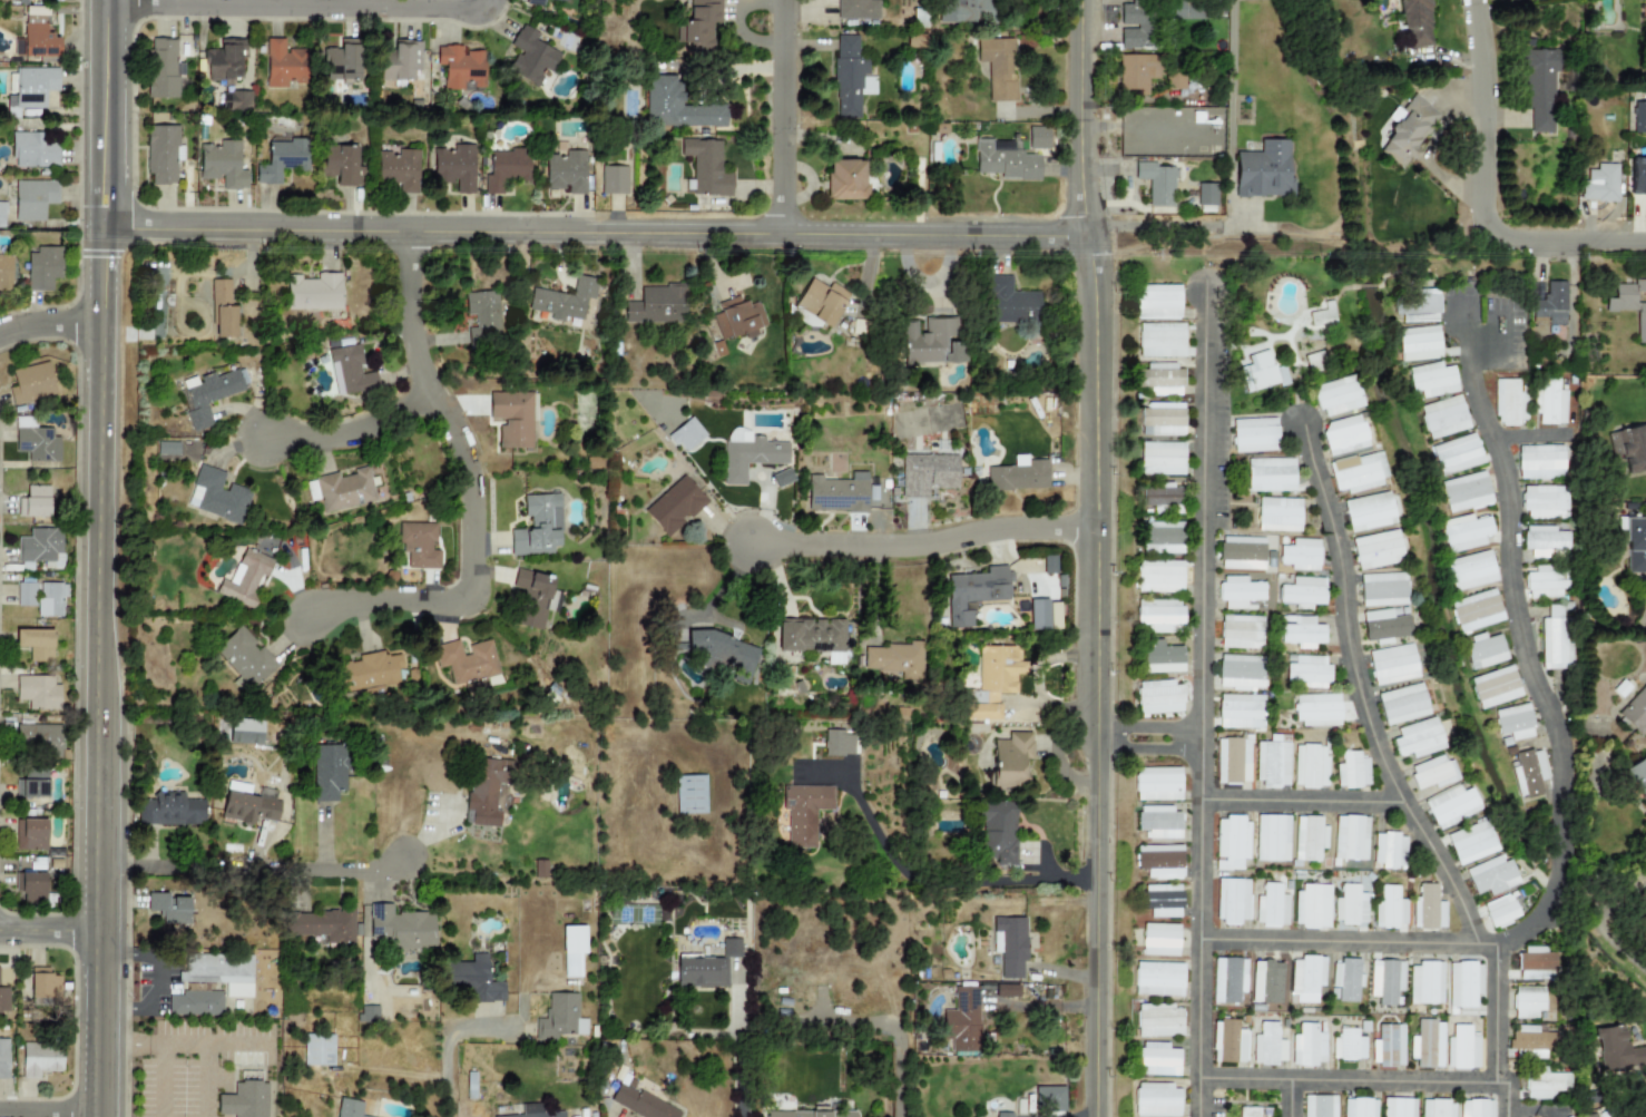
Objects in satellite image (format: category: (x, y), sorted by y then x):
building: (29, 0)
building: (560, 0)
building: (533, 2)
road: (296, 9)
building: (858, 9)
building: (1201, 10)
building: (964, 11)
building: (1645, 20)
building: (1414, 26)
building: (697, 27)
building: (1137, 28)
building: (37, 33)
building: (530, 57)
building: (344, 60)
building: (224, 61)
building: (400, 61)
building: (284, 65)
building: (461, 67)
building: (997, 67)
building: (165, 69)
building: (1138, 72)
building: (850, 78)
building: (1175, 78)
building: (33, 86)
building: (1540, 94)
building: (237, 101)
building: (675, 106)
road: (1231, 115)
road: (787, 117)
building: (1640, 118)
road: (1487, 120)
building: (1411, 128)
building: (1038, 137)
building: (32, 151)
building: (163, 154)
building: (282, 160)
building: (1005, 160)
building: (223, 165)
building: (339, 165)
building: (454, 166)
building: (706, 167)
building: (506, 168)
building: (399, 169)
building: (567, 172)
building: (1265, 173)
building: (1637, 175)
building: (614, 179)
building: (845, 179)
building: (1158, 182)
building: (1600, 182)
building: (1207, 194)
building: (32, 198)
building: (1, 214)
road: (1179, 231)
road: (597, 234)
road: (1566, 243)
building: (43, 268)
building: (6, 274)
building: (314, 292)
building: (821, 301)
building: (1156, 301)
building: (564, 302)
building: (1010, 304)
building: (657, 305)
building: (1551, 305)
building: (1415, 306)
building: (1611, 306)
building: (223, 310)
building: (1323, 316)
building: (482, 319)
building: (736, 319)
road: (50, 326)
building: (1640, 327)
building: (1162, 339)
building: (932, 343)
building: (1420, 345)
building: (1319, 361)
building: (351, 369)
building: (1263, 374)
building: (1160, 380)
building: (1433, 381)
building: (31, 383)
building: (1336, 394)
building: (207, 395)
building: (1550, 401)
building: (1508, 404)
road: (1483, 412)
building: (512, 418)
building: (1444, 418)
building: (1164, 421)
building: (686, 435)
building: (1254, 435)
building: (1346, 435)
building: (738, 437)
road: (369, 440)
building: (36, 441)
building: (167, 448)
building: (1630, 449)
building: (1458, 455)
building: (749, 458)
building: (1162, 459)
building: (1540, 461)
building: (927, 473)
building: (1358, 473)
building: (1019, 474)
building: (1272, 476)
building: (782, 478)
building: (344, 490)
building: (1464, 492)
building: (839, 493)
road: (488, 496)
building: (219, 497)
building: (1165, 501)
building: (1546, 501)
building: (33, 502)
building: (675, 506)
building: (1370, 512)
building: (1281, 516)
building: (538, 527)
building: (1466, 532)
building: (1164, 538)
building: (1547, 541)
building: (1629, 543)
road: (927, 545)
building: (419, 546)
building: (40, 547)
building: (1378, 551)
building: (1244, 555)
building: (1300, 555)
road: (100, 558)
road: (1089, 558)
building: (1048, 566)
building: (1470, 571)
building: (1159, 577)
building: (1542, 582)
building: (1382, 589)
building: (26, 591)
building: (1240, 591)
building: (1302, 592)
building: (973, 594)
building: (535, 598)
building: (50, 599)
building: (1476, 610)
building: (1038, 615)
building: (1160, 616)
road: (1348, 616)
building: (1383, 625)
building: (1242, 633)
building: (1302, 633)
building: (813, 638)
building: (1555, 640)
building: (36, 644)
building: (1482, 650)
building: (722, 654)
building: (245, 657)
building: (1162, 657)
building: (894, 659)
building: (467, 660)
building: (1392, 665)
building: (1241, 672)
building: (1307, 672)
building: (368, 673)
building: (993, 680)
building: (1495, 687)
building: (38, 693)
building: (1158, 697)
building: (1402, 704)
building: (1316, 709)
building: (1241, 712)
road: (1203, 713)
building: (1634, 714)
building: (1512, 724)
road: (1147, 725)
building: (246, 732)
building: (1417, 738)
building: (40, 739)
building: (837, 743)
road: (1145, 747)
building: (1011, 760)
building: (1272, 764)
building: (1310, 766)
building: (1351, 770)
building: (329, 772)
building: (1431, 772)
building: (1529, 773)
building: (1638, 777)
building: (1156, 783)
building: (32, 785)
building: (487, 790)
building: (690, 794)
road: (1383, 800)
building: (248, 804)
building: (1450, 805)
building: (168, 810)
building: (804, 811)
building: (1158, 822)
building: (997, 833)
building: (30, 835)
building: (1272, 837)
building: (1309, 837)
building: (1351, 837)
building: (1231, 842)
building: (1470, 842)
road: (1564, 849)
building: (1389, 850)
building: (1159, 861)
road: (254, 866)
building: (1491, 875)
road: (947, 884)
building: (31, 886)
building: (1162, 900)
building: (1231, 900)
building: (1312, 905)
building: (1350, 905)
building: (1271, 907)
building: (168, 908)
building: (1390, 908)
building: (1499, 911)
building: (323, 925)
building: (400, 928)
road: (1604, 929)
road: (48, 931)
building: (1158, 939)
building: (1009, 944)
building: (731, 948)
building: (572, 950)
road: (119, 954)
building: (1535, 963)
building: (219, 972)
building: (702, 972)
building: (1306, 978)
building: (476, 979)
building: (1157, 979)
building: (1346, 979)
building: (1227, 980)
building: (1385, 980)
road: (156, 981)
building: (1266, 982)
building: (1424, 982)
building: (1463, 983)
building: (43, 984)
building: (3, 1001)
building: (1527, 1001)
building: (196, 1002)
road: (117, 1006)
building: (368, 1013)
road: (1498, 1015)
building: (559, 1017)
building: (962, 1018)
building: (1157, 1020)
building: (1530, 1038)
building: (1229, 1041)
road: (448, 1042)
building: (1427, 1043)
building: (1267, 1045)
building: (1348, 1045)
building: (1307, 1046)
building: (1388, 1046)
road: (737, 1048)
building: (1461, 1048)
building: (317, 1049)
building: (1617, 1049)
building: (1528, 1054)
building: (3, 1059)
building: (40, 1059)
building: (1156, 1059)
road: (899, 1061)
road: (1371, 1081)
building: (1545, 1085)
building: (1049, 1098)
road: (1293, 1098)
building: (244, 1100)
building: (1156, 1100)
building: (639, 1103)
building: (1319, 1106)
building: (1359, 1107)
building: (1398, 1107)
building: (347, 1108)
building: (1437, 1108)
building: (1474, 1108)
road: (47, 1111)
building: (532, 1111)
building: (810, 1114)
building: (1002, 1115)
building: (1619, 1115)

